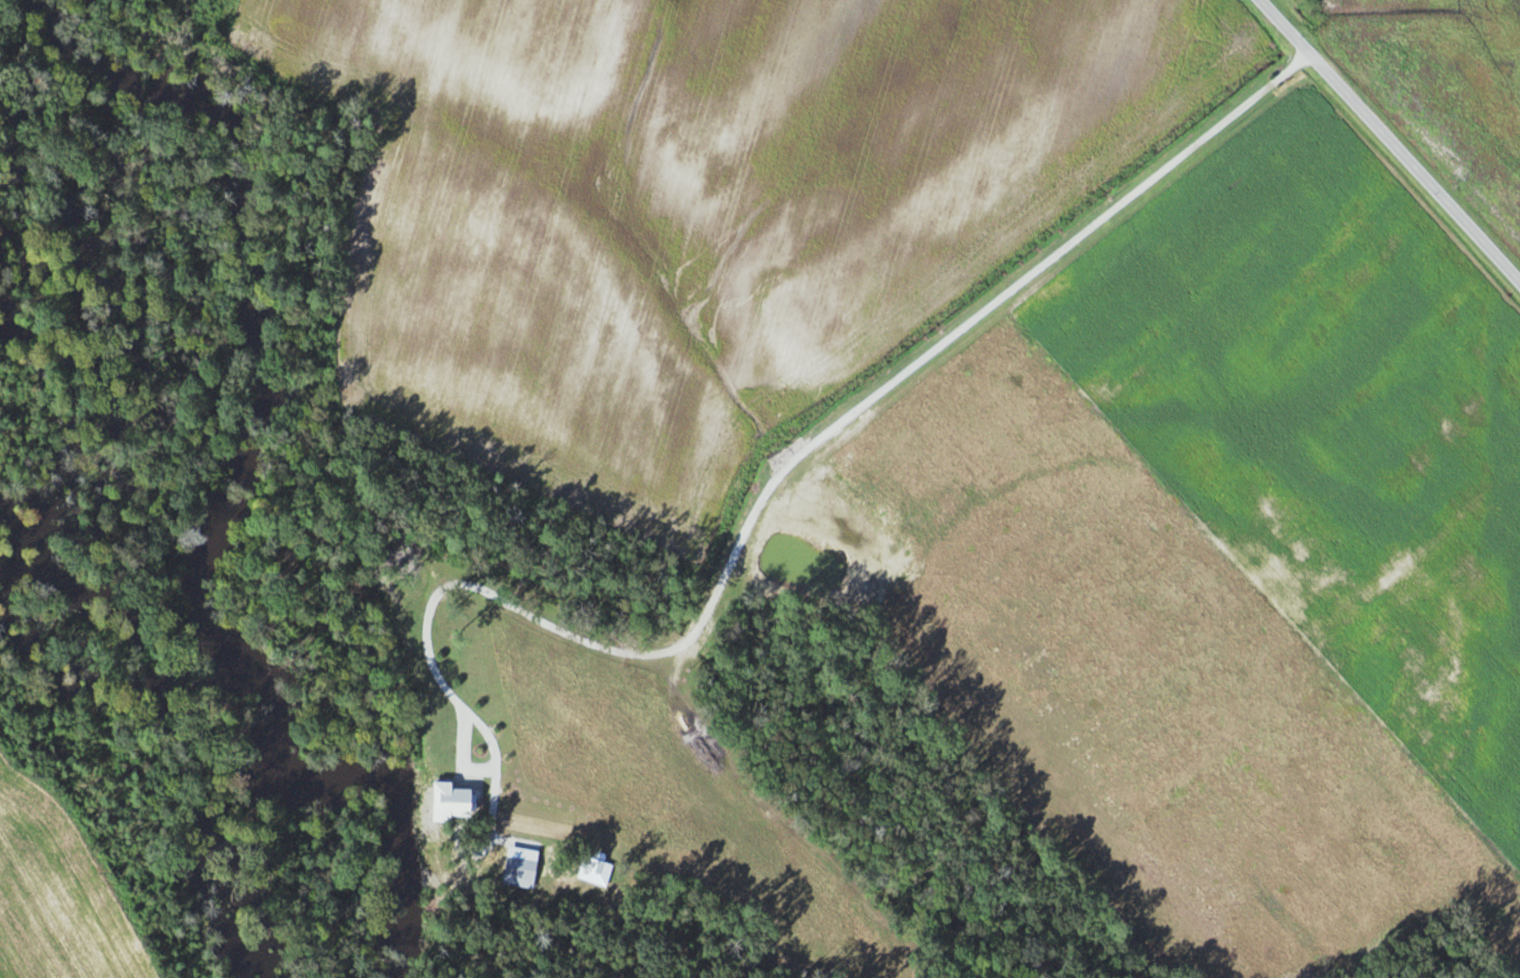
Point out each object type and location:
road: (1391, 142)
river: (248, 482)

